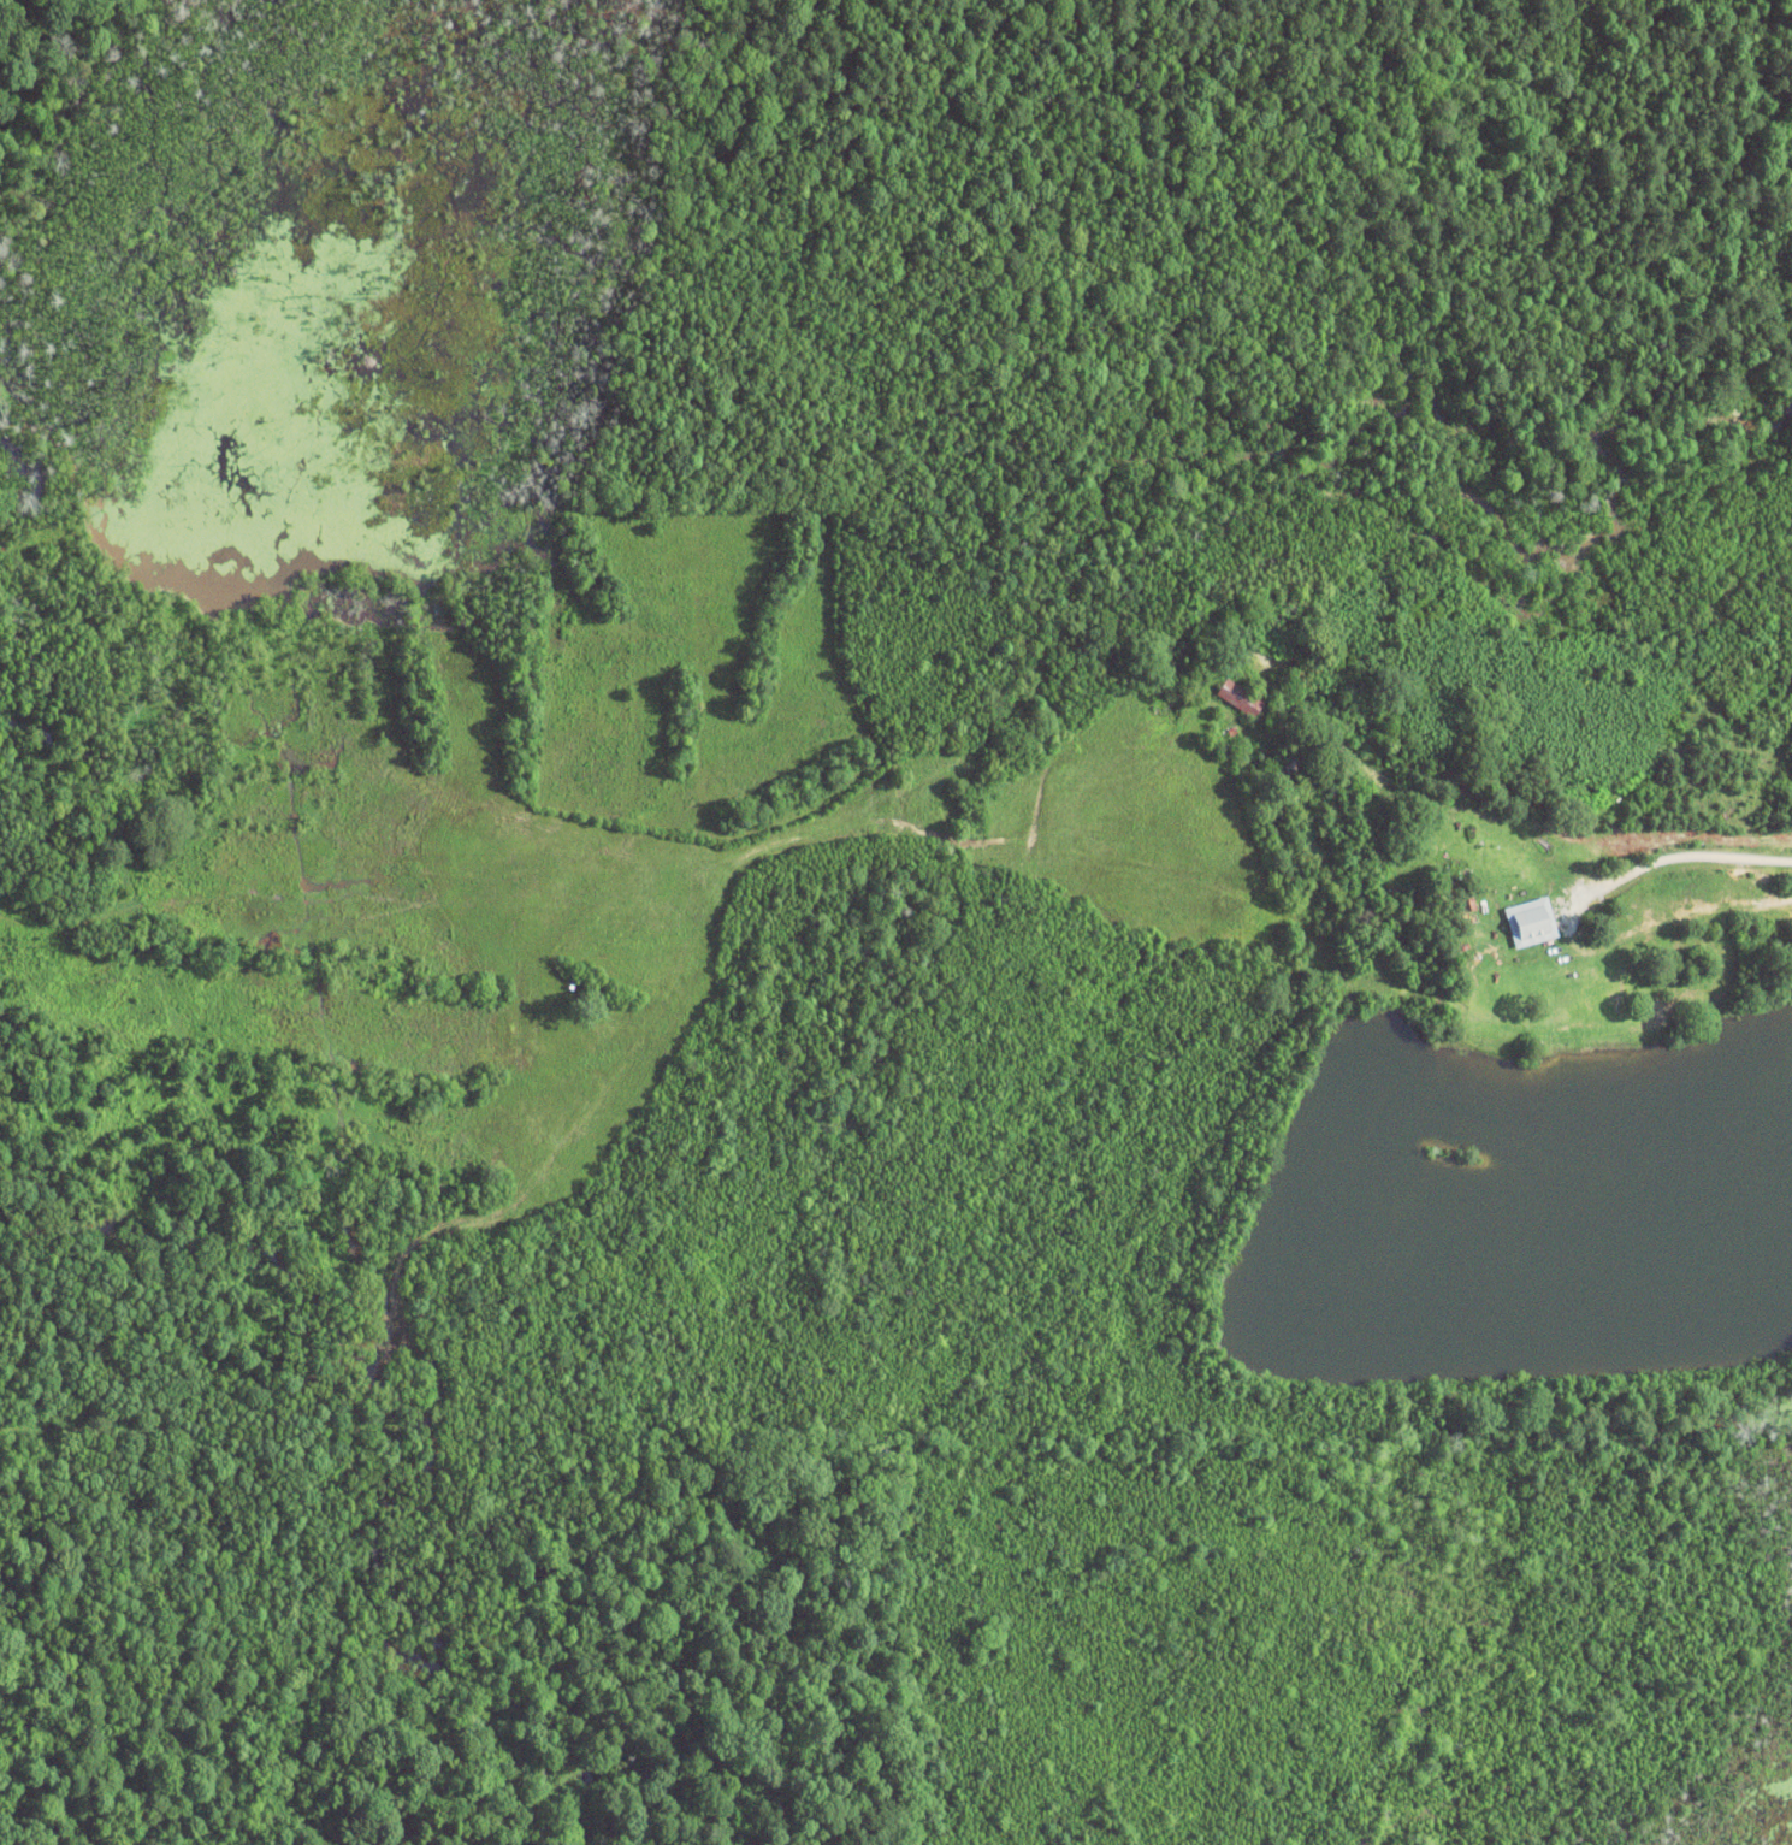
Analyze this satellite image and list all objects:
building: (1237, 697)
building: (1287, 756)
road: (1686, 853)
building: (1528, 921)

